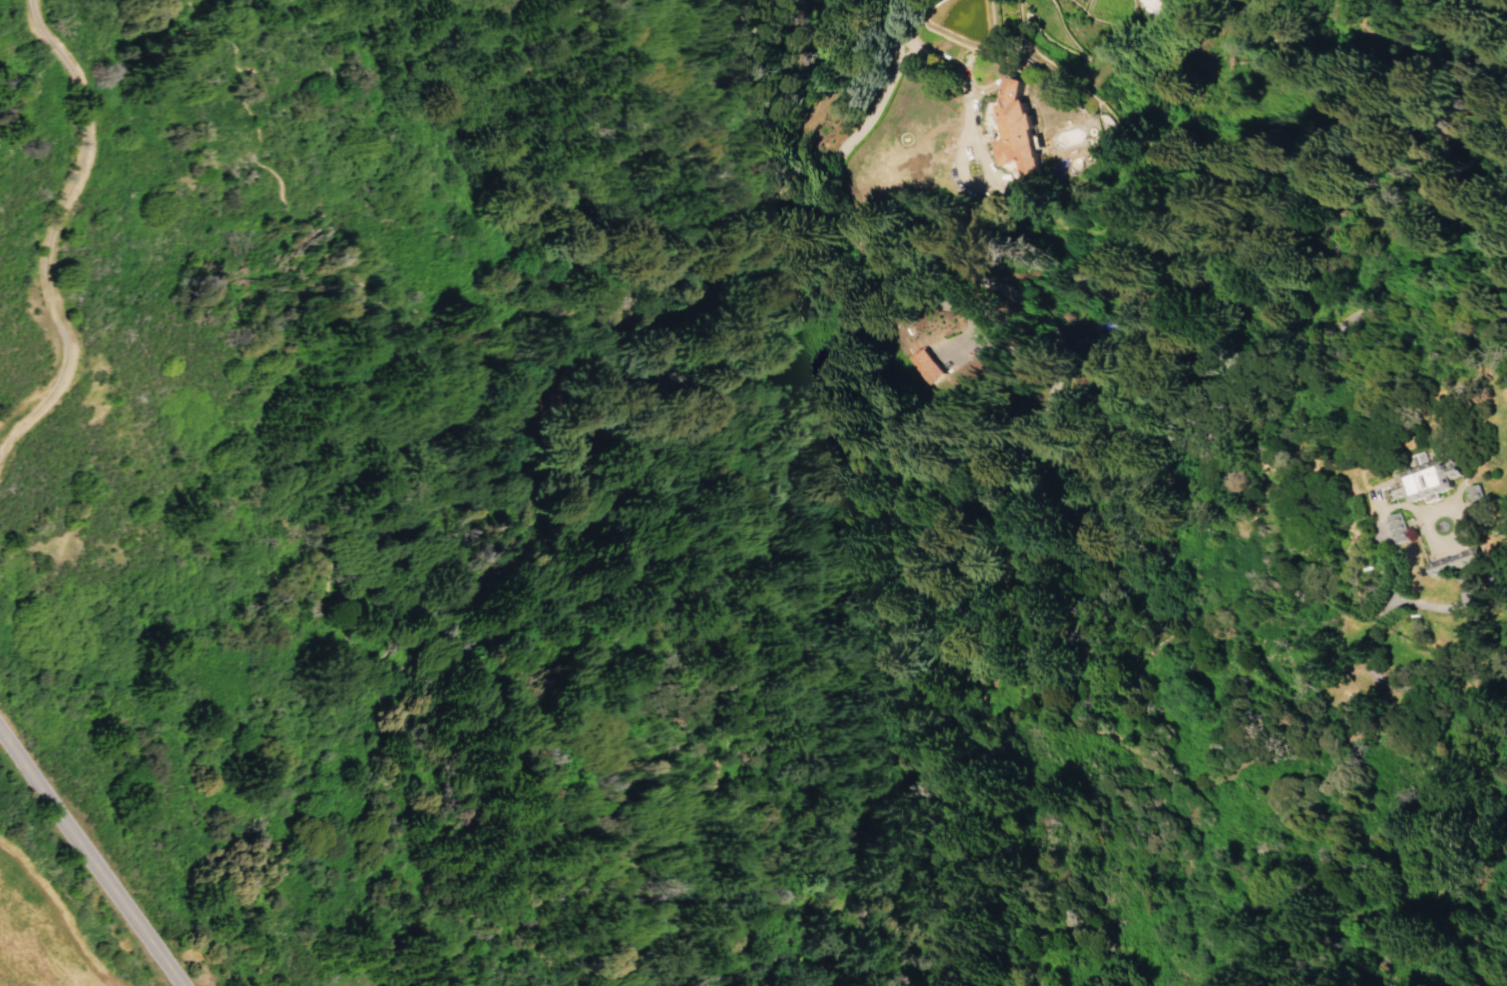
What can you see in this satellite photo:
building: (1018, 125)
road: (56, 231)
road: (24, 396)
building: (1425, 481)
building: (1471, 494)
building: (1394, 528)
road: (369, 652)
road: (93, 856)
road: (1009, 959)

